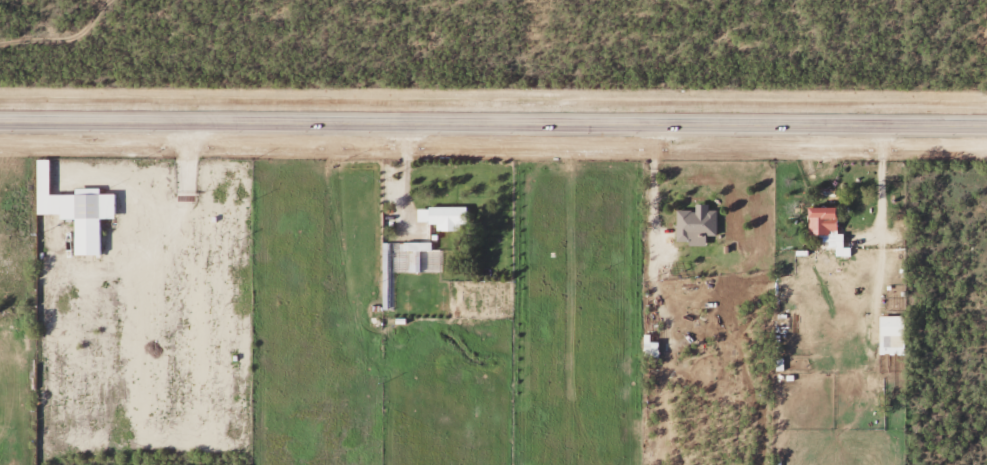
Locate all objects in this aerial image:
road: (493, 121)
building: (73, 211)
building: (443, 216)
building: (693, 226)
building: (825, 229)
building: (419, 254)
building: (389, 271)
building: (889, 336)
building: (653, 348)

